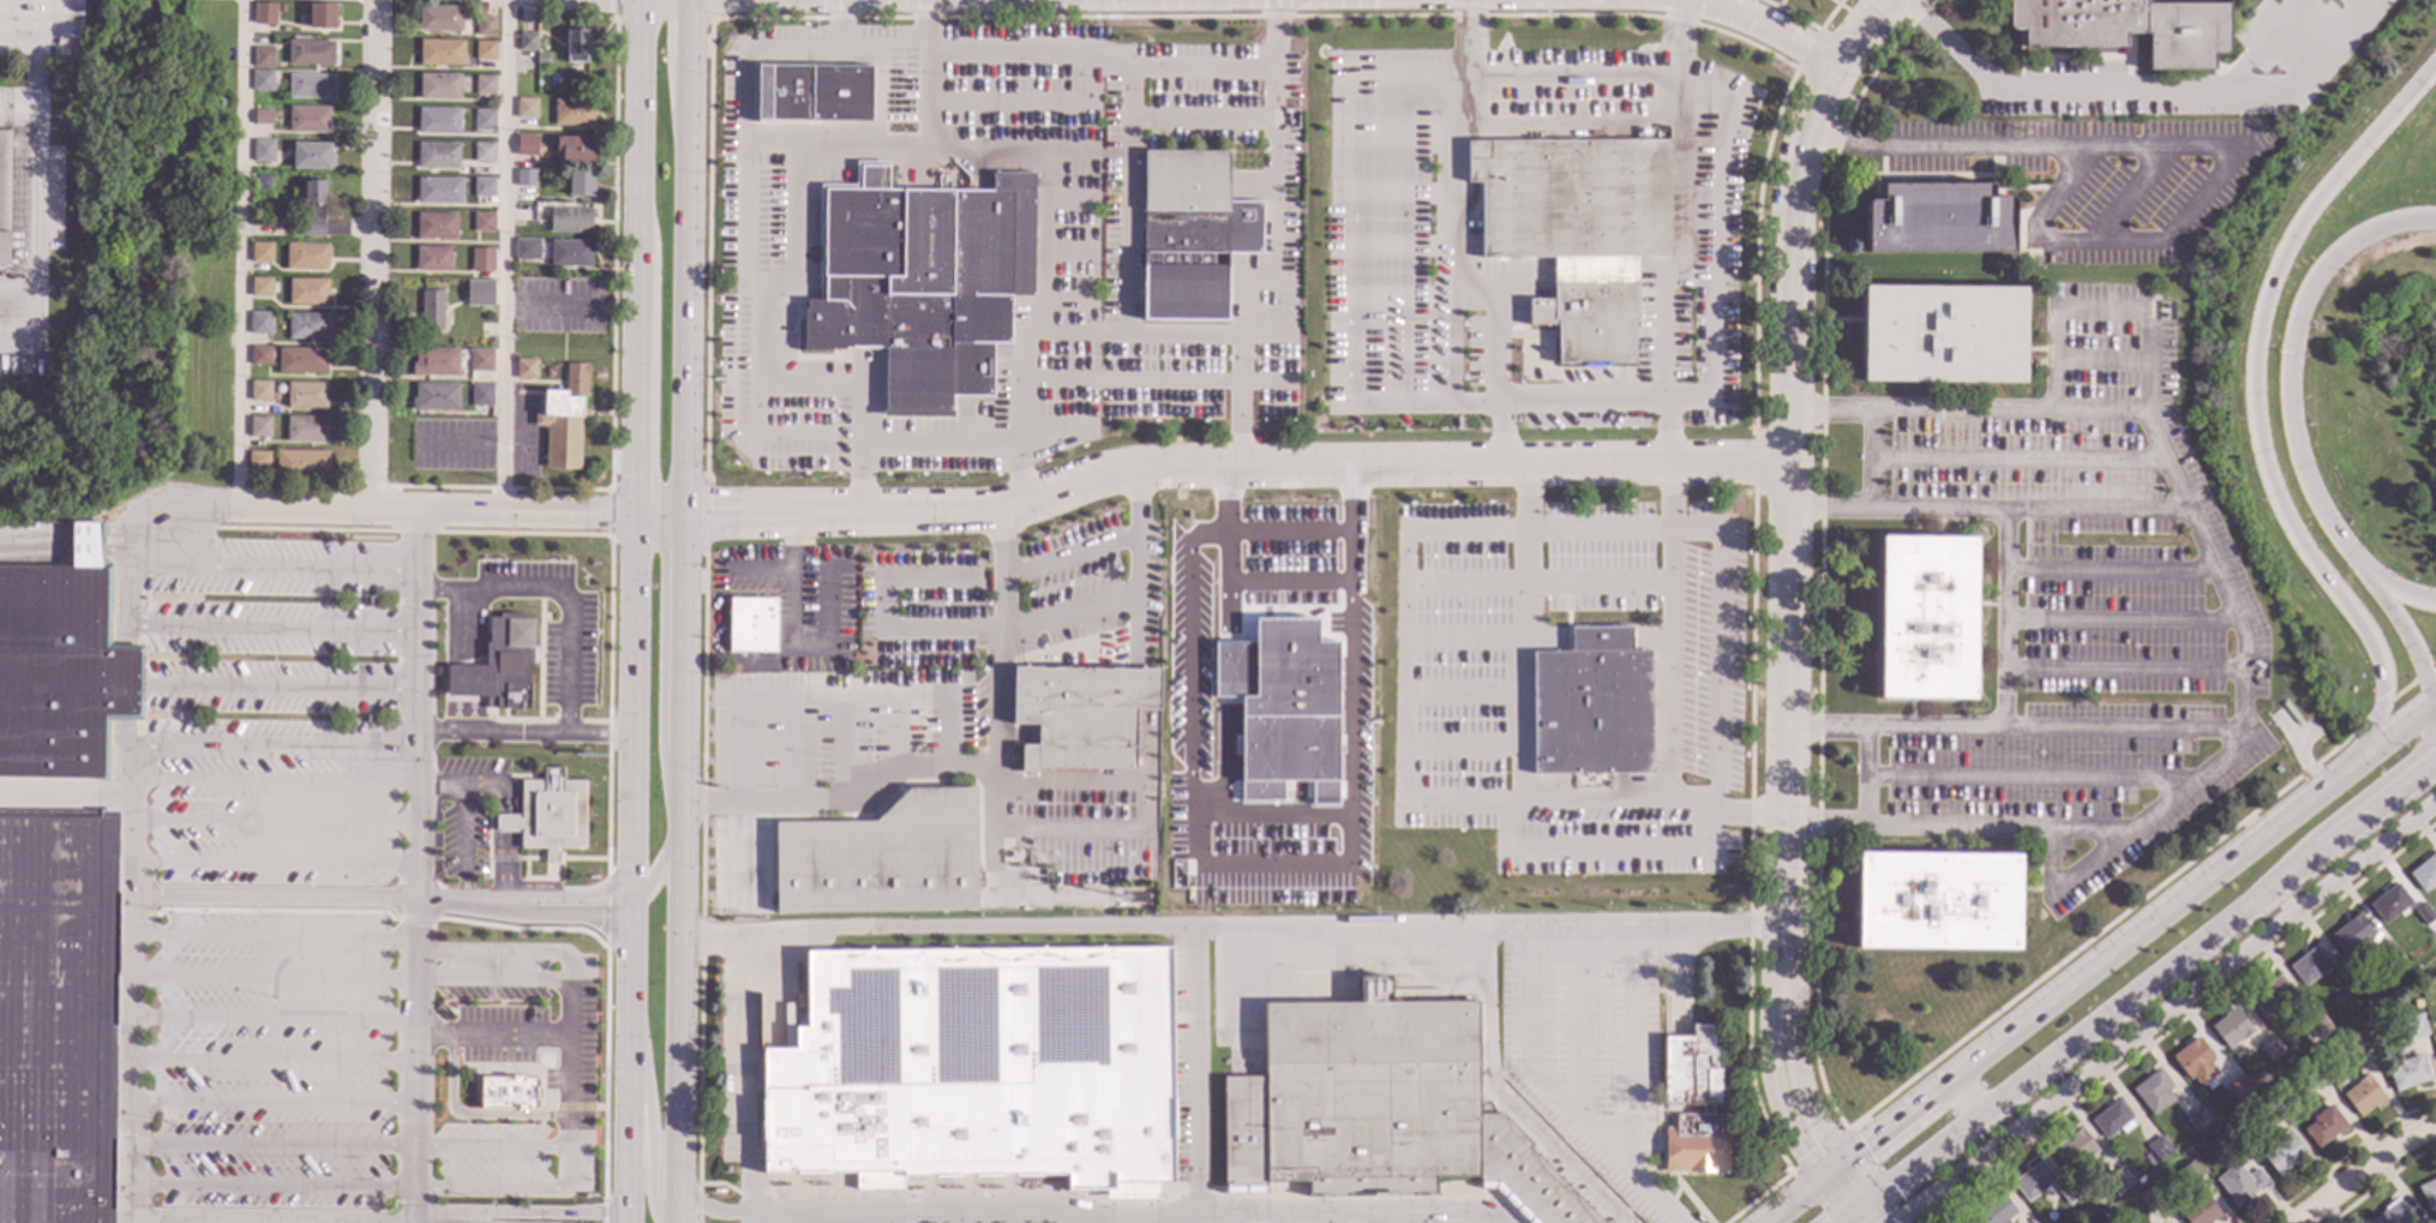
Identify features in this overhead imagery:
road: (1702, 2)
building: (281, 7)
building: (264, 12)
building: (322, 16)
building: (440, 18)
road: (1762, 24)
building: (485, 25)
road: (840, 25)
road: (923, 26)
building: (815, 28)
building: (2128, 28)
road: (686, 30)
road: (1868, 31)
road: (1271, 36)
road: (1465, 36)
road: (1676, 37)
building: (527, 41)
building: (575, 44)
building: (485, 50)
building: (310, 52)
building: (440, 52)
building: (263, 56)
road: (1098, 56)
building: (541, 58)
road: (35, 67)
road: (1572, 74)
building: (262, 79)
building: (485, 84)
building: (311, 85)
road: (2135, 85)
building: (439, 86)
building: (812, 92)
building: (526, 107)
building: (572, 112)
building: (263, 116)
building: (308, 119)
building: (484, 119)
building: (438, 120)
building: (526, 144)
road: (2186, 144)
building: (263, 149)
building: (575, 149)
road: (901, 149)
building: (484, 151)
building: (311, 155)
building: (438, 155)
road: (791, 155)
building: (526, 178)
building: (581, 182)
building: (482, 186)
building: (439, 190)
building: (5, 193)
road: (1128, 199)
building: (312, 210)
building: (570, 218)
building: (1938, 218)
building: (482, 221)
road: (1040, 222)
building: (436, 224)
building: (1577, 227)
building: (1189, 228)
road: (1680, 238)
road: (34, 239)
road: (1714, 240)
building: (527, 248)
road: (1363, 250)
building: (262, 252)
building: (570, 252)
road: (241, 253)
building: (306, 256)
road: (373, 256)
road: (503, 257)
road: (636, 257)
building: (433, 258)
building: (482, 259)
park: (154, 266)
road: (684, 276)
road: (1272, 276)
road: (1445, 280)
building: (923, 282)
building: (260, 287)
road: (17, 290)
building: (306, 290)
building: (479, 293)
building: (432, 308)
building: (1387, 318)
building: (260, 323)
building: (307, 325)
building: (2035, 325)
road: (1134, 334)
building: (1943, 334)
building: (560, 349)
traffic signals: (2288, 352)
building: (260, 354)
building: (480, 359)
building: (301, 360)
building: (436, 361)
building: (526, 367)
road: (652, 380)
building: (259, 390)
building: (306, 394)
building: (481, 395)
road: (1582, 395)
building: (434, 396)
road: (2251, 396)
road: (2288, 401)
road: (2099, 409)
building: (564, 418)
building: (259, 426)
road: (1667, 427)
building: (306, 428)
road: (935, 448)
road: (1865, 456)
building: (258, 460)
road: (1291, 461)
building: (301, 463)
building: (130, 494)
building: (110, 496)
building: (102, 498)
road: (742, 498)
building: (94, 504)
road: (682, 508)
road: (2094, 508)
road: (438, 512)
building: (90, 516)
road: (1787, 520)
road: (743, 524)
road: (1285, 526)
road: (182, 528)
road: (1604, 530)
road: (2197, 539)
road: (35, 545)
road: (85, 546)
road: (119, 548)
road: (1069, 551)
road: (274, 566)
road: (2105, 566)
road: (798, 581)
road: (134, 596)
building: (1926, 617)
road: (2116, 617)
road: (2003, 618)
building: (751, 624)
road: (635, 625)
road: (272, 631)
road: (988, 631)
road: (661, 635)
road: (1717, 649)
road: (564, 660)
road: (680, 663)
building: (59, 665)
building: (497, 666)
road: (2120, 667)
road: (2422, 667)
building: (1589, 678)
building: (1280, 707)
traffic signals: (2429, 709)
building: (2291, 713)
building: (1085, 715)
road: (2122, 729)
road: (598, 735)
road: (995, 742)
road: (272, 749)
road: (1862, 775)
road: (271, 781)
road: (497, 783)
road: (66, 798)
road: (842, 802)
building: (548, 815)
road: (461, 817)
road: (632, 820)
road: (271, 822)
road: (130, 823)
road: (510, 823)
road: (1508, 843)
road: (661, 855)
building: (882, 857)
road: (270, 865)
road: (410, 868)
road: (511, 868)
road: (680, 871)
building: (2424, 873)
building: (1139, 897)
road: (157, 900)
building: (1937, 900)
building: (2389, 903)
road: (571, 904)
building: (2424, 913)
road: (1231, 928)
building: (2351, 934)
road: (268, 936)
road: (2126, 941)
building: (2388, 951)
road: (492, 953)
building: (2310, 964)
road: (268, 977)
building: (2350, 981)
road: (491, 982)
road: (2136, 985)
building: (2345, 994)
building: (2273, 995)
building: (2416, 1002)
road: (2165, 1011)
building: (58, 1015)
road: (268, 1020)
building: (2317, 1025)
building: (2414, 1025)
building: (2230, 1026)
road: (491, 1036)
building: (2309, 1037)
building: (2352, 1047)
road: (1630, 1049)
building: (2273, 1051)
building: (2318, 1056)
road: (269, 1061)
building: (2195, 1061)
road: (629, 1062)
building: (974, 1066)
building: (2407, 1072)
building: (2309, 1074)
road: (569, 1079)
road: (676, 1081)
road: (1769, 1086)
building: (2237, 1086)
building: (2153, 1091)
building: (509, 1095)
road: (1552, 1095)
road: (1963, 1095)
building: (2362, 1095)
road: (1804, 1102)
road: (269, 1103)
building: (1692, 1103)
building: (1378, 1108)
building: (2272, 1110)
building: (2112, 1119)
building: (2198, 1119)
building: (2323, 1126)
road: (648, 1134)
road: (269, 1144)
road: (490, 1147)
building: (2159, 1147)
building: (2074, 1149)
building: (2284, 1155)
building: (2191, 1170)
road: (2365, 1171)
building: (2140, 1179)
building: (2033, 1180)
building: (2118, 1180)
building: (2239, 1182)
road: (269, 1187)
building: (2066, 1191)
road: (487, 1193)
road: (1838, 1193)
building: (2428, 1193)
building: (2149, 1199)
road: (1792, 1201)
road: (718, 1210)
building: (1994, 1210)
building: (2198, 1210)
road: (1139, 1211)
building: (2390, 1213)
road: (1866, 1215)
road: (576, 1216)
road: (1176, 1217)
road: (864, 1219)
building: (2108, 1219)
road: (766, 1221)
road: (779, 1221)
road: (841, 1221)
building: (1966, 1221)
building: (2428, 1221)

